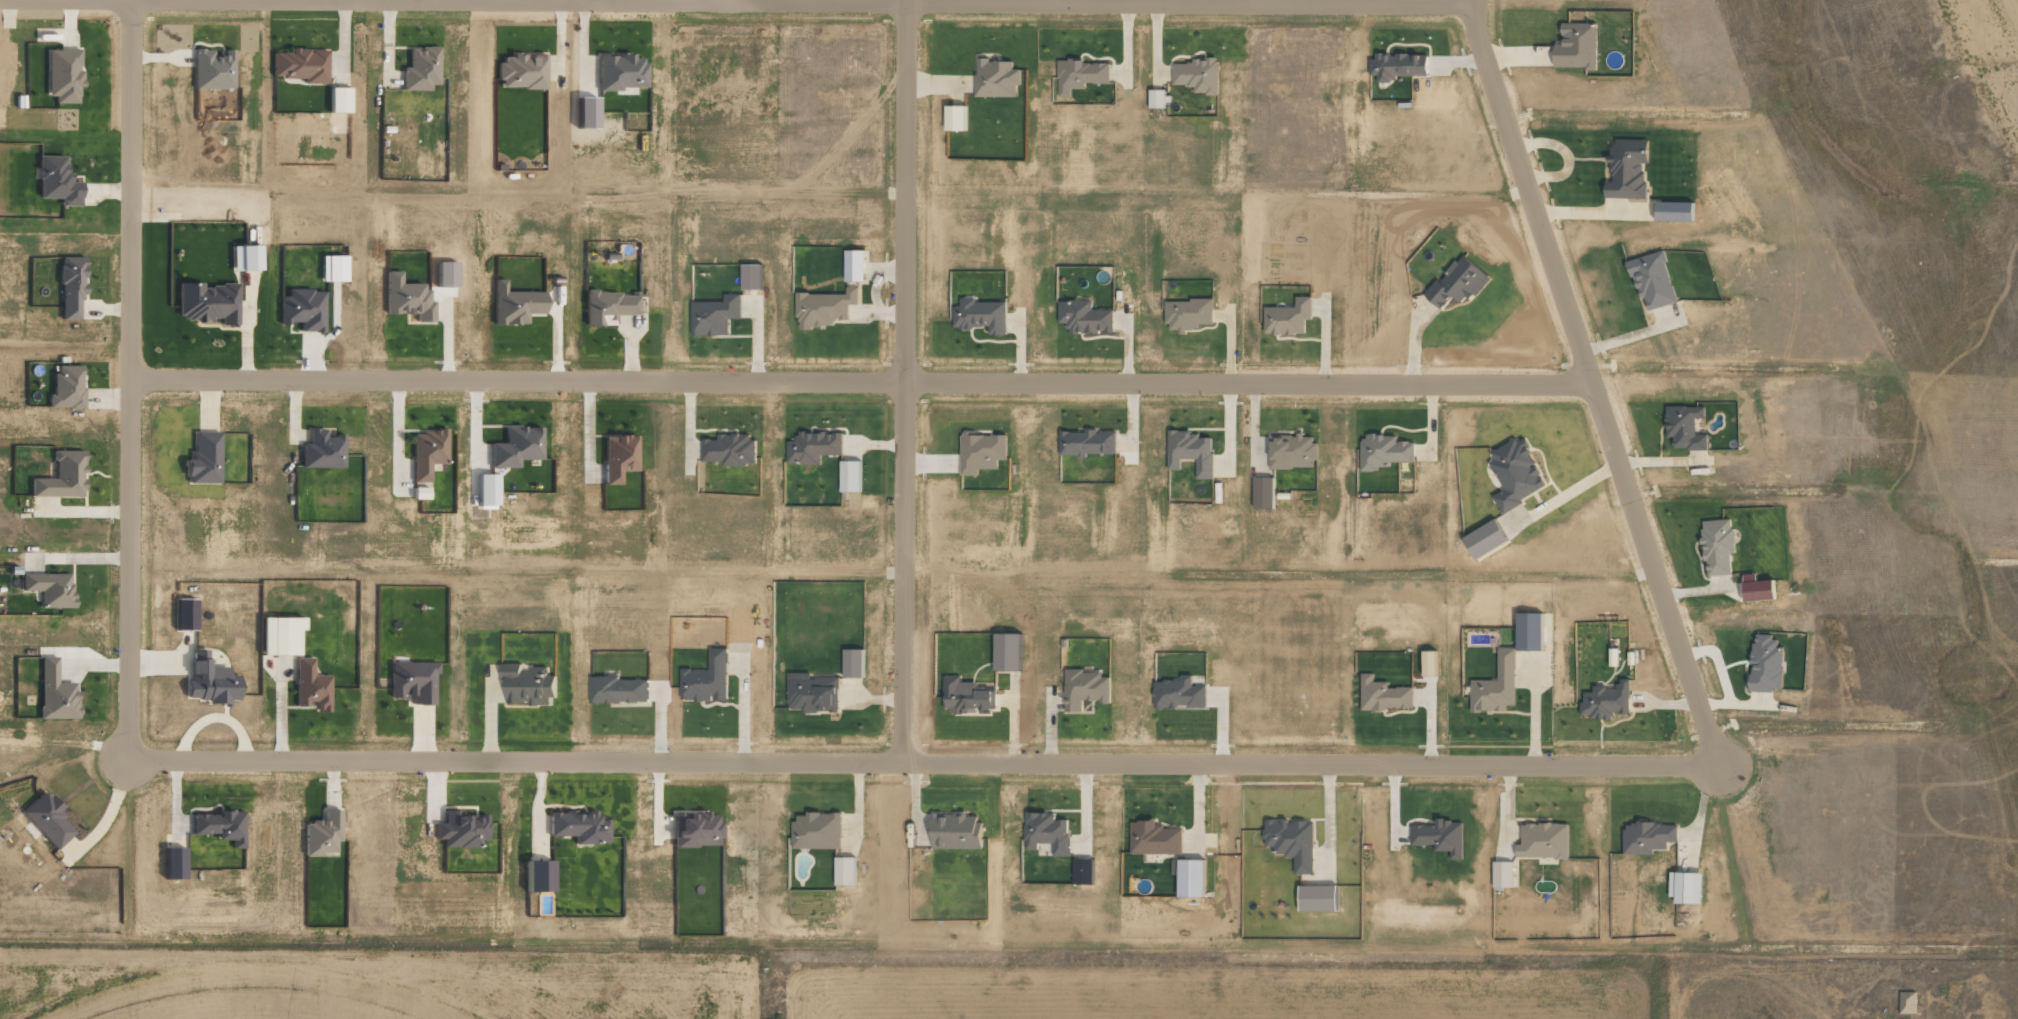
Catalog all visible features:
road: (995, 1)
building: (1576, 46)
building: (300, 65)
building: (1399, 66)
building: (420, 68)
building: (212, 70)
building: (521, 72)
building: (620, 72)
building: (63, 75)
building: (1080, 75)
building: (1197, 75)
building: (996, 79)
building: (1156, 98)
building: (337, 100)
building: (584, 112)
building: (954, 118)
building: (1626, 169)
building: (56, 181)
building: (1673, 212)
building: (243, 258)
building: (854, 266)
building: (331, 269)
building: (750, 277)
building: (1652, 280)
building: (1456, 283)
building: (70, 288)
building: (407, 298)
building: (207, 302)
building: (513, 305)
building: (607, 307)
building: (824, 308)
building: (302, 309)
building: (1187, 314)
building: (714, 315)
building: (980, 316)
building: (1084, 317)
building: (1287, 317)
road: (1589, 378)
road: (127, 380)
road: (905, 381)
road: (859, 382)
building: (66, 388)
building: (1684, 427)
building: (1087, 442)
building: (515, 446)
building: (813, 446)
building: (730, 449)
building: (321, 450)
building: (981, 451)
building: (1190, 451)
building: (1383, 451)
building: (426, 452)
building: (617, 457)
building: (203, 458)
building: (1515, 473)
building: (61, 476)
building: (850, 476)
building: (484, 489)
building: (1263, 492)
building: (419, 493)
building: (1484, 539)
building: (1717, 546)
building: (48, 588)
building: (1758, 590)
building: (184, 614)
building: (1528, 631)
building: (279, 636)
building: (1006, 651)
building: (852, 663)
building: (1428, 663)
building: (1765, 663)
building: (706, 679)
building: (209, 681)
building: (412, 681)
building: (527, 685)
building: (1495, 685)
building: (310, 686)
building: (618, 689)
building: (1085, 689)
building: (54, 692)
building: (1179, 693)
building: (813, 694)
building: (1383, 694)
building: (965, 695)
building: (1605, 700)
road: (922, 762)
building: (47, 819)
building: (219, 825)
building: (577, 825)
building: (461, 828)
building: (695, 828)
building: (816, 830)
building: (954, 830)
building: (1046, 832)
building: (321, 833)
building: (1440, 836)
building: (1647, 836)
building: (1154, 837)
building: (1543, 840)
building: (1291, 841)
building: (844, 870)
building: (1502, 873)
building: (536, 875)
building: (1188, 876)
building: (1685, 886)
building: (1317, 897)
building: (1907, 1002)

